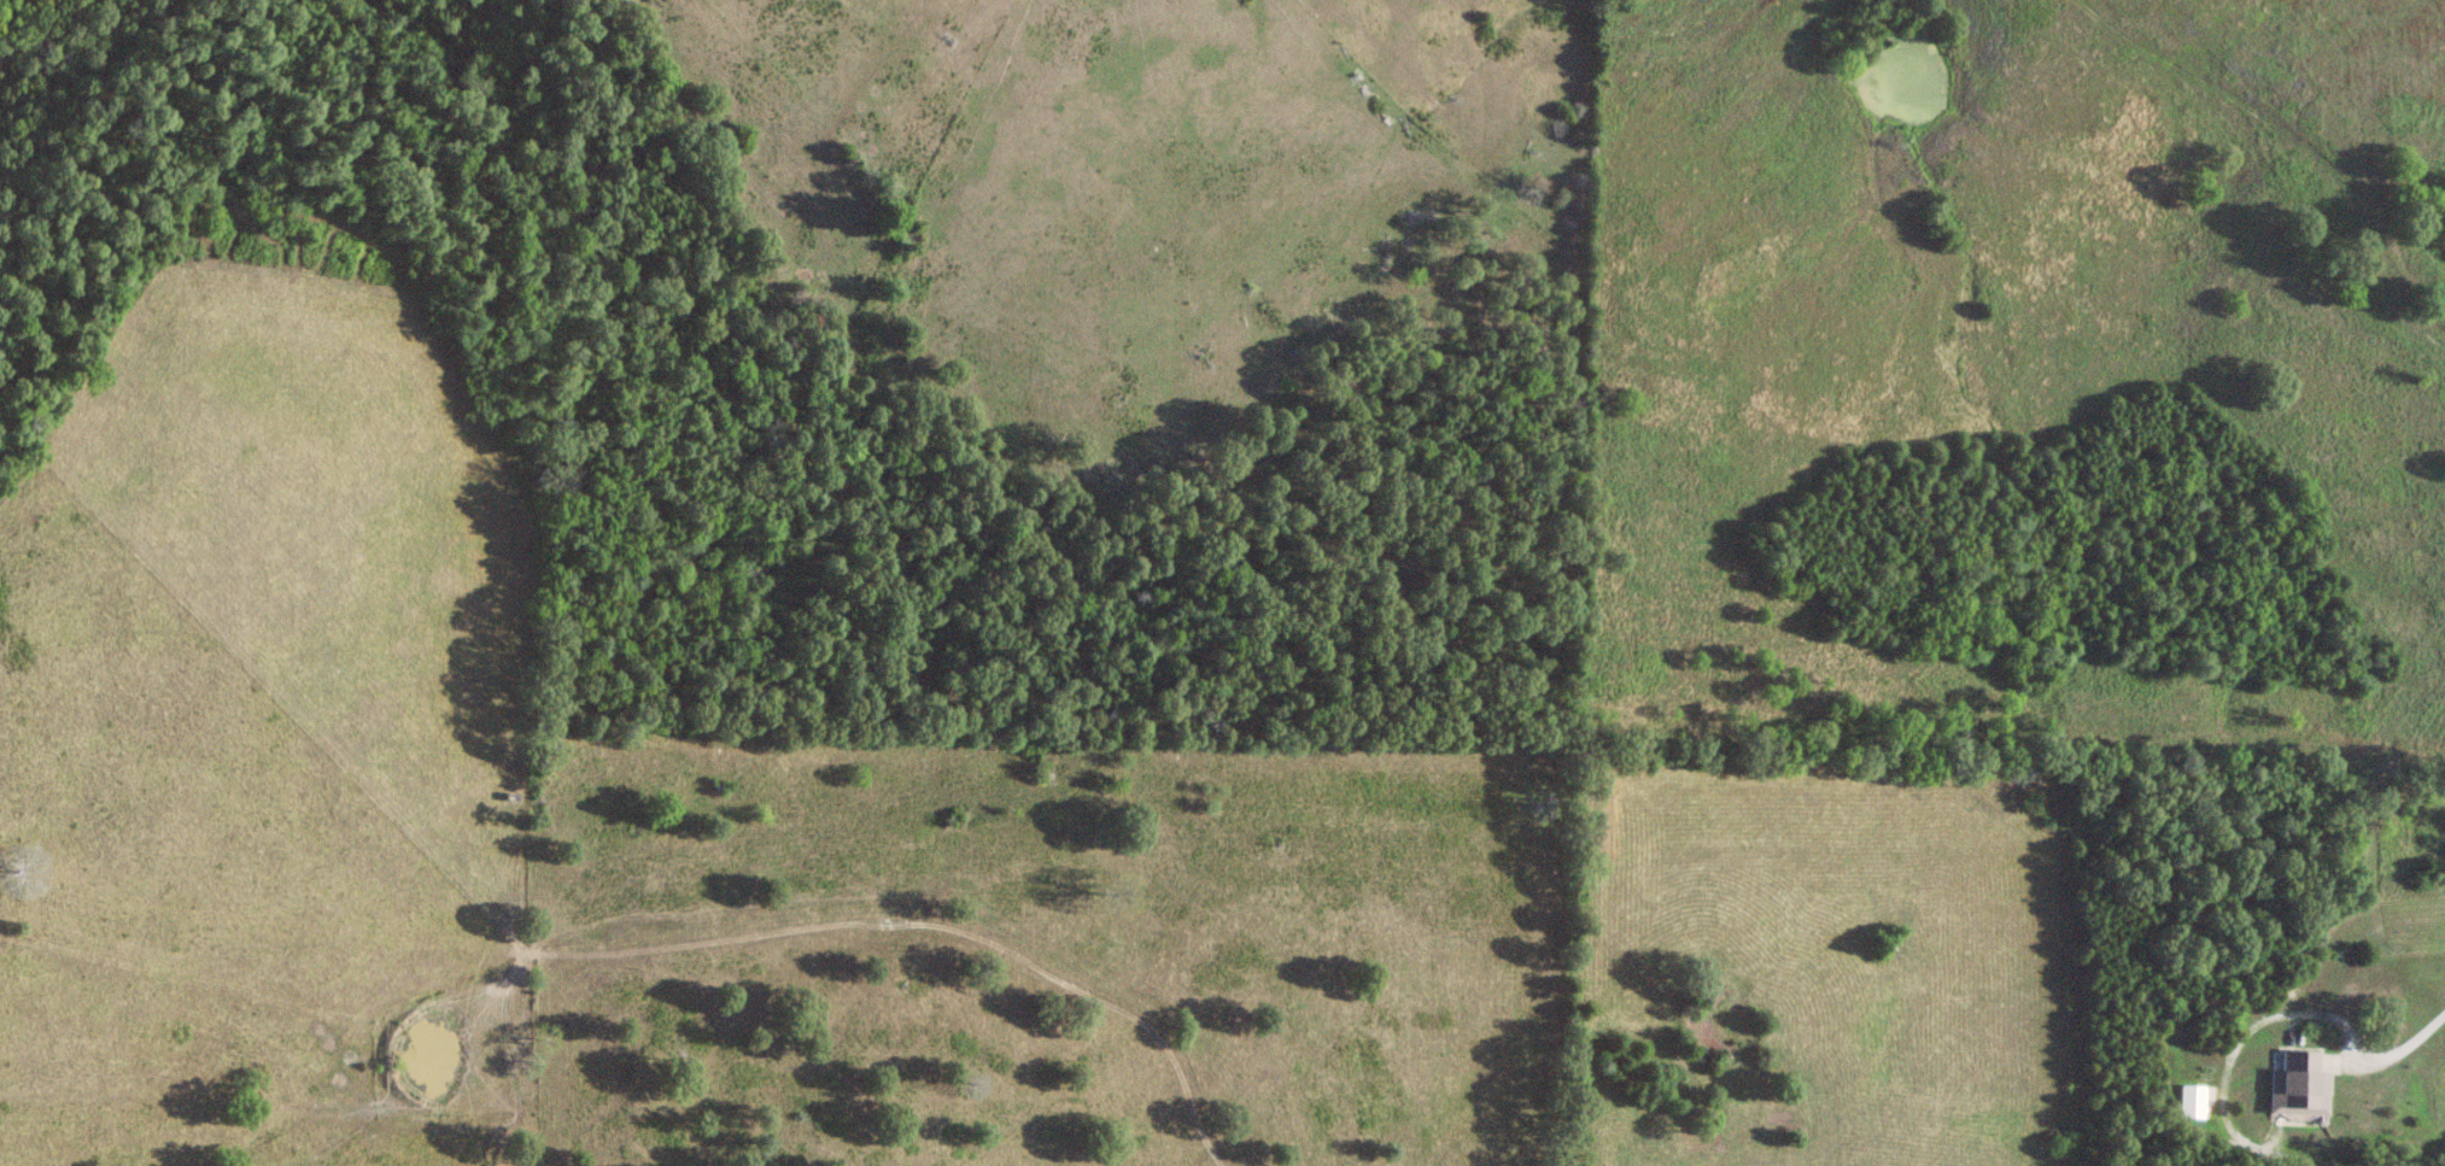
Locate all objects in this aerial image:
building: (2309, 1097)
building: (2198, 1102)

